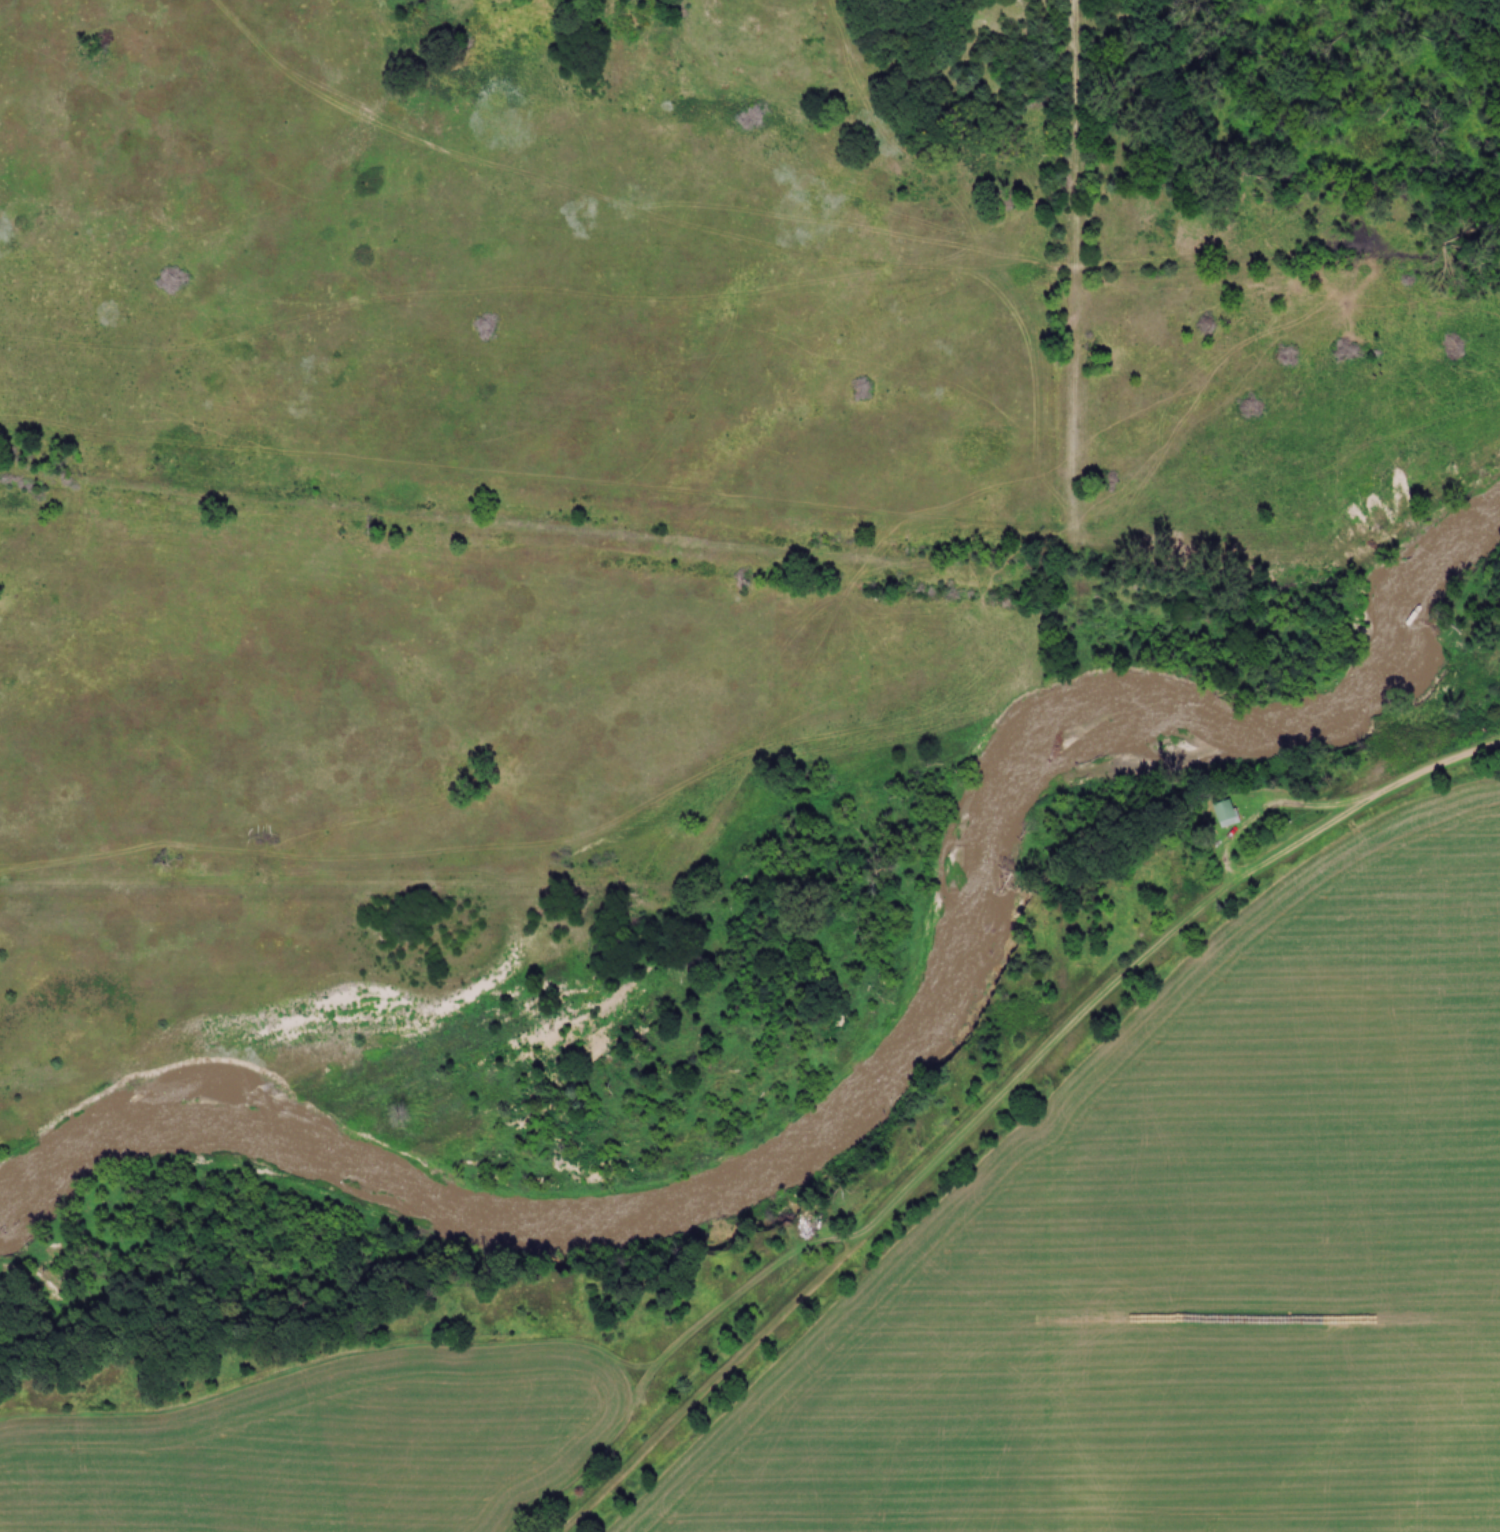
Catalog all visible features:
road: (1083, 312)
building: (1229, 814)
river: (887, 1074)

